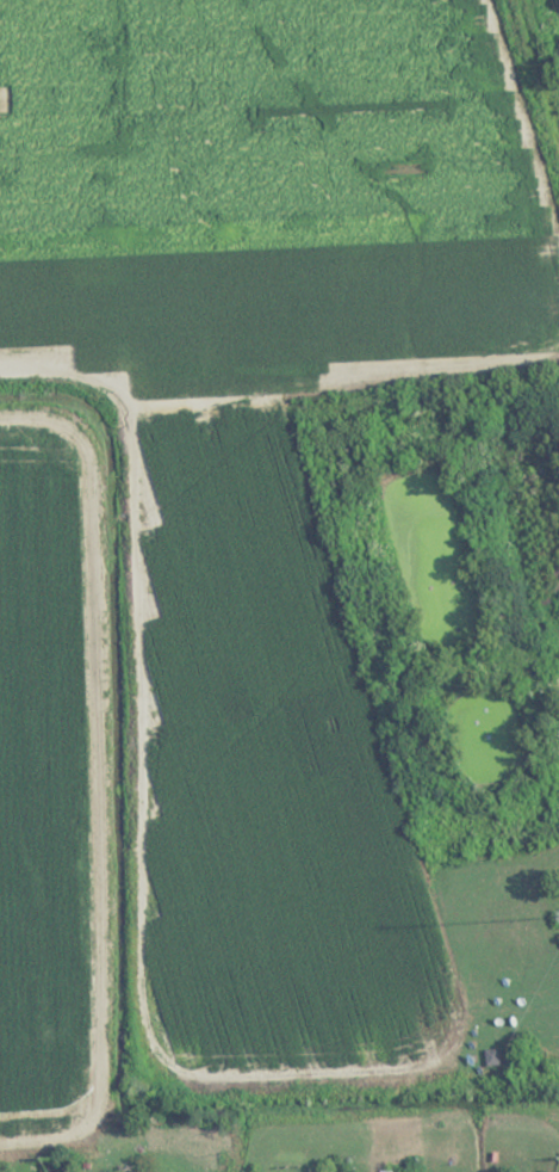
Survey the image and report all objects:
road: (131, 511)
road: (274, 1085)

